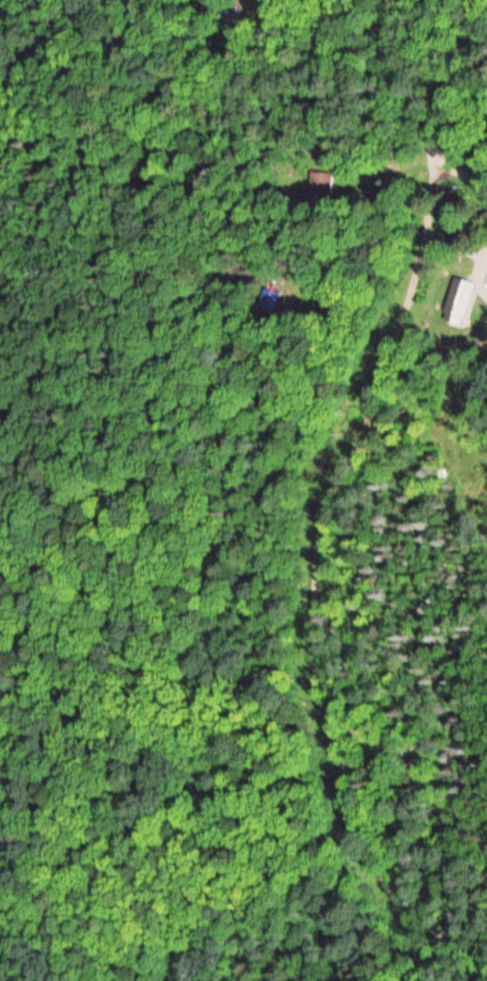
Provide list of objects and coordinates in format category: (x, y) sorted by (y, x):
road: (420, 110)
building: (324, 181)
road: (312, 556)

